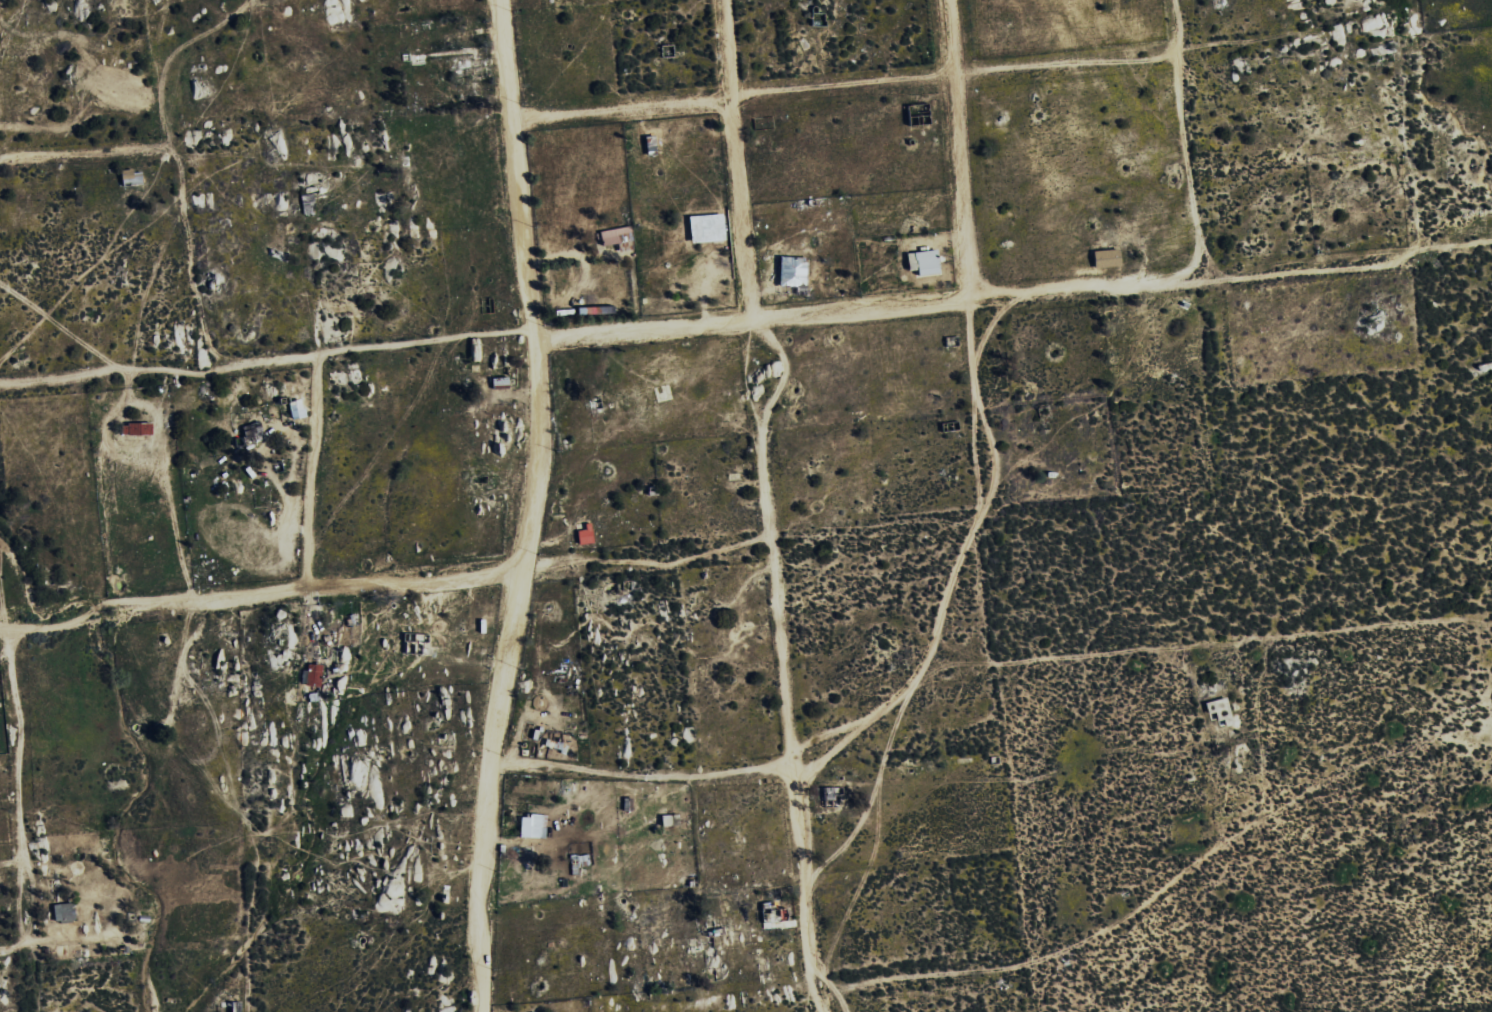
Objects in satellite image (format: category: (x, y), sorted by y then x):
road: (1182, 139)
road: (962, 258)
road: (765, 498)
road: (531, 507)
road: (10, 793)

